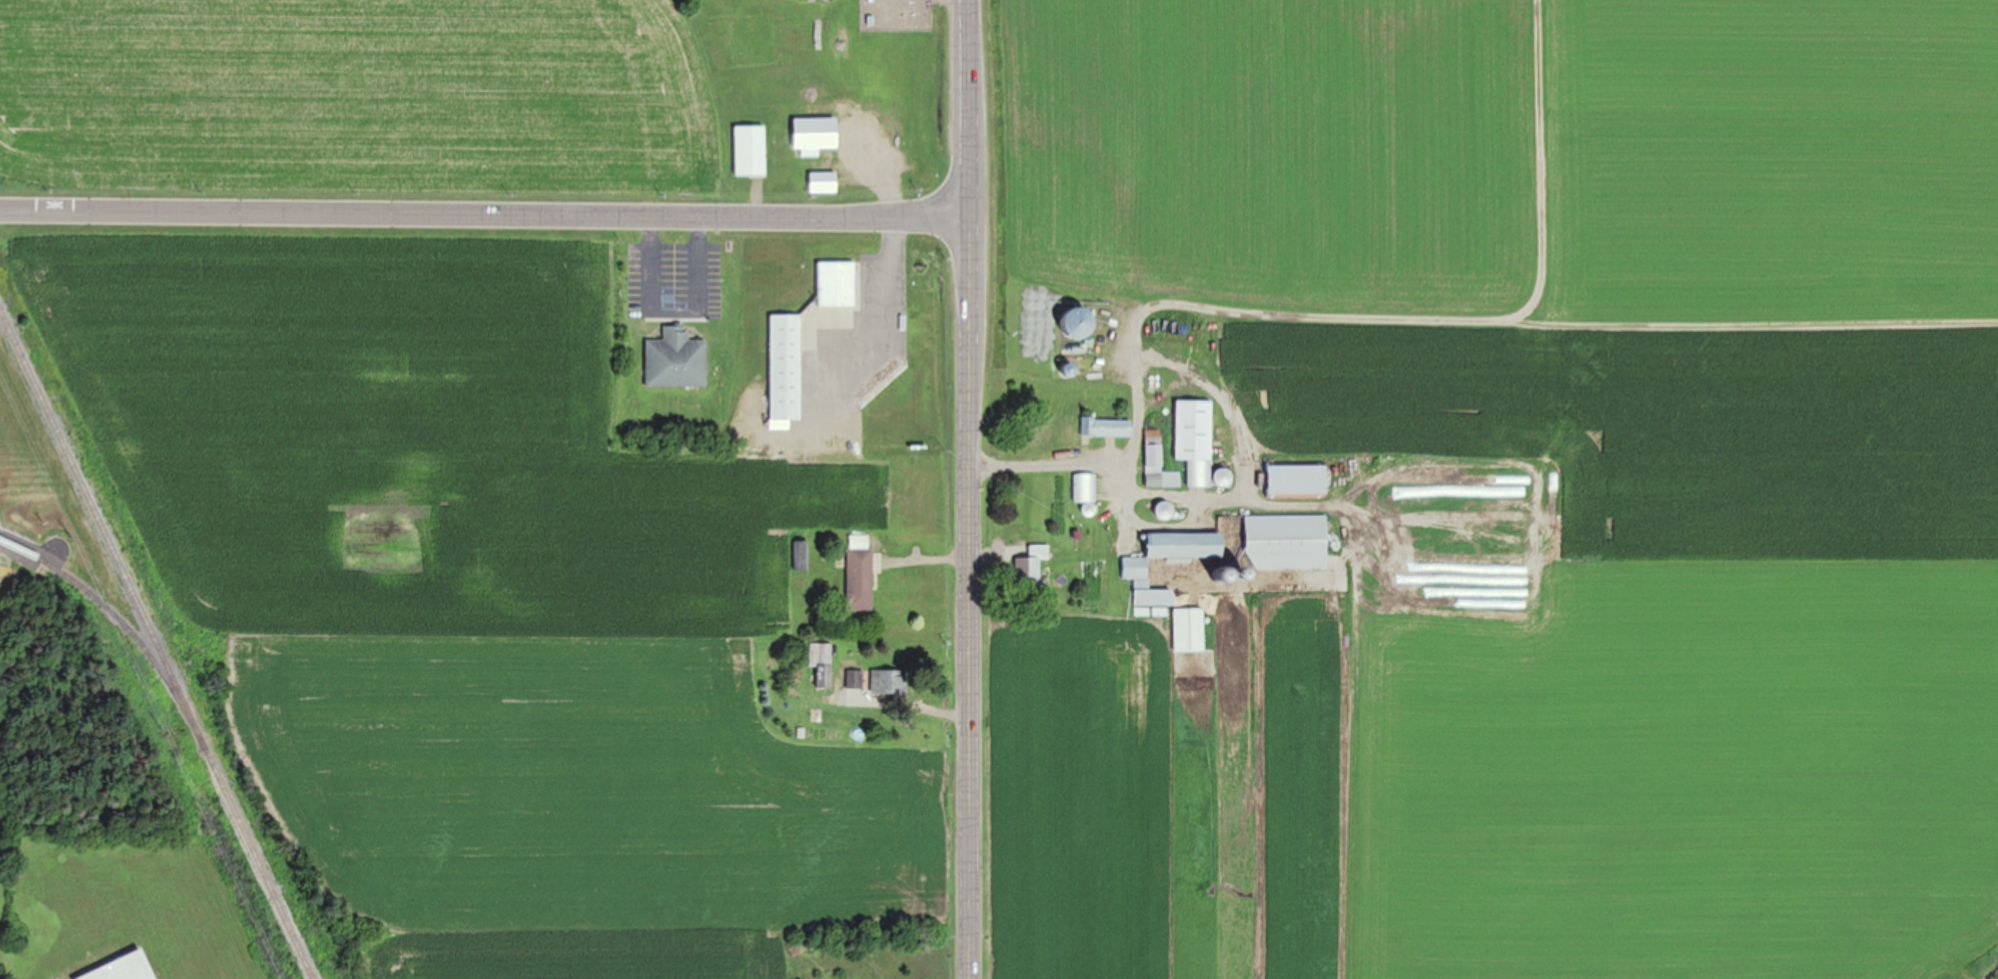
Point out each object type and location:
crop: (356, 99)
road: (970, 108)
building: (815, 134)
building: (750, 150)
building: (823, 181)
road: (485, 214)
building: (838, 284)
road: (970, 309)
road: (671, 313)
building: (676, 360)
building: (786, 367)
building: (1108, 427)
building: (1058, 432)
building: (1196, 439)
building: (1158, 462)
building: (1297, 480)
building: (1085, 487)
building: (1166, 510)
building: (1245, 543)
building: (802, 555)
building: (1032, 564)
building: (860, 573)
building: (1155, 597)
railway: (123, 624)
building: (1189, 629)
railway: (152, 642)
building: (822, 663)
building: (855, 679)
building: (890, 683)
road: (969, 690)
park: (4, 881)
building: (124, 969)

